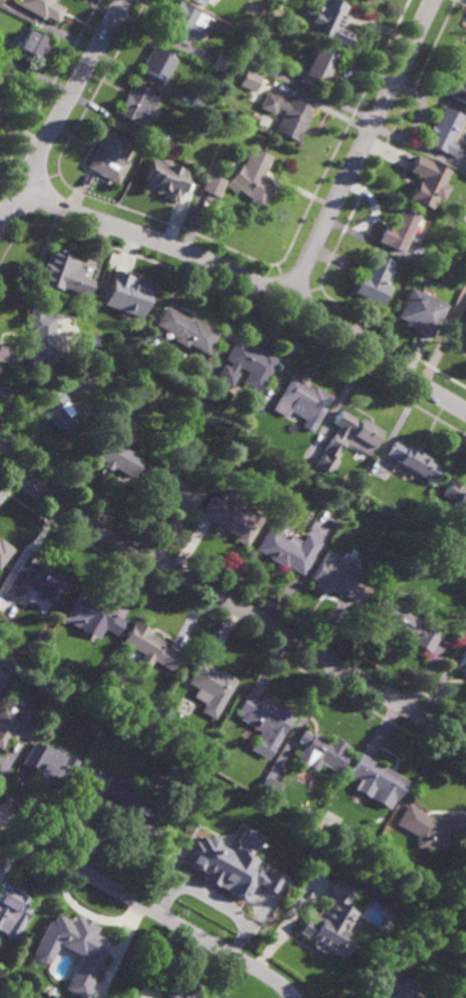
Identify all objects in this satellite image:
building: (205, 0)
building: (0, 1)
building: (195, 1)
building: (363, 1)
building: (43, 7)
building: (328, 21)
building: (184, 22)
building: (32, 43)
building: (222, 62)
building: (158, 63)
building: (270, 66)
building: (316, 66)
building: (250, 81)
building: (459, 87)
building: (3, 92)
building: (138, 103)
building: (200, 104)
road: (63, 111)
building: (288, 114)
building: (445, 131)
building: (119, 133)
building: (156, 138)
road: (362, 149)
building: (110, 157)
building: (254, 178)
building: (164, 179)
building: (428, 181)
building: (214, 184)
building: (400, 229)
building: (65, 273)
building: (375, 279)
road: (254, 280)
building: (125, 296)
building: (50, 310)
building: (422, 312)
road: (233, 328)
building: (185, 330)
building: (459, 331)
building: (45, 339)
building: (246, 365)
building: (300, 400)
building: (61, 410)
building: (348, 439)
building: (112, 456)
building: (412, 460)
building: (171, 489)
building: (456, 496)
building: (231, 520)
building: (285, 548)
building: (4, 552)
building: (336, 577)
building: (35, 583)
road: (227, 602)
building: (92, 616)
building: (400, 625)
building: (148, 648)
building: (8, 661)
building: (461, 663)
building: (210, 687)
building: (264, 721)
building: (16, 724)
building: (320, 750)
building: (48, 765)
building: (377, 779)
building: (268, 786)
building: (131, 812)
building: (430, 827)
building: (247, 840)
building: (229, 868)
road: (214, 900)
road: (147, 907)
building: (12, 908)
building: (330, 921)
building: (72, 948)
building: (3, 970)
building: (177, 990)
building: (395, 994)
building: (137, 997)

